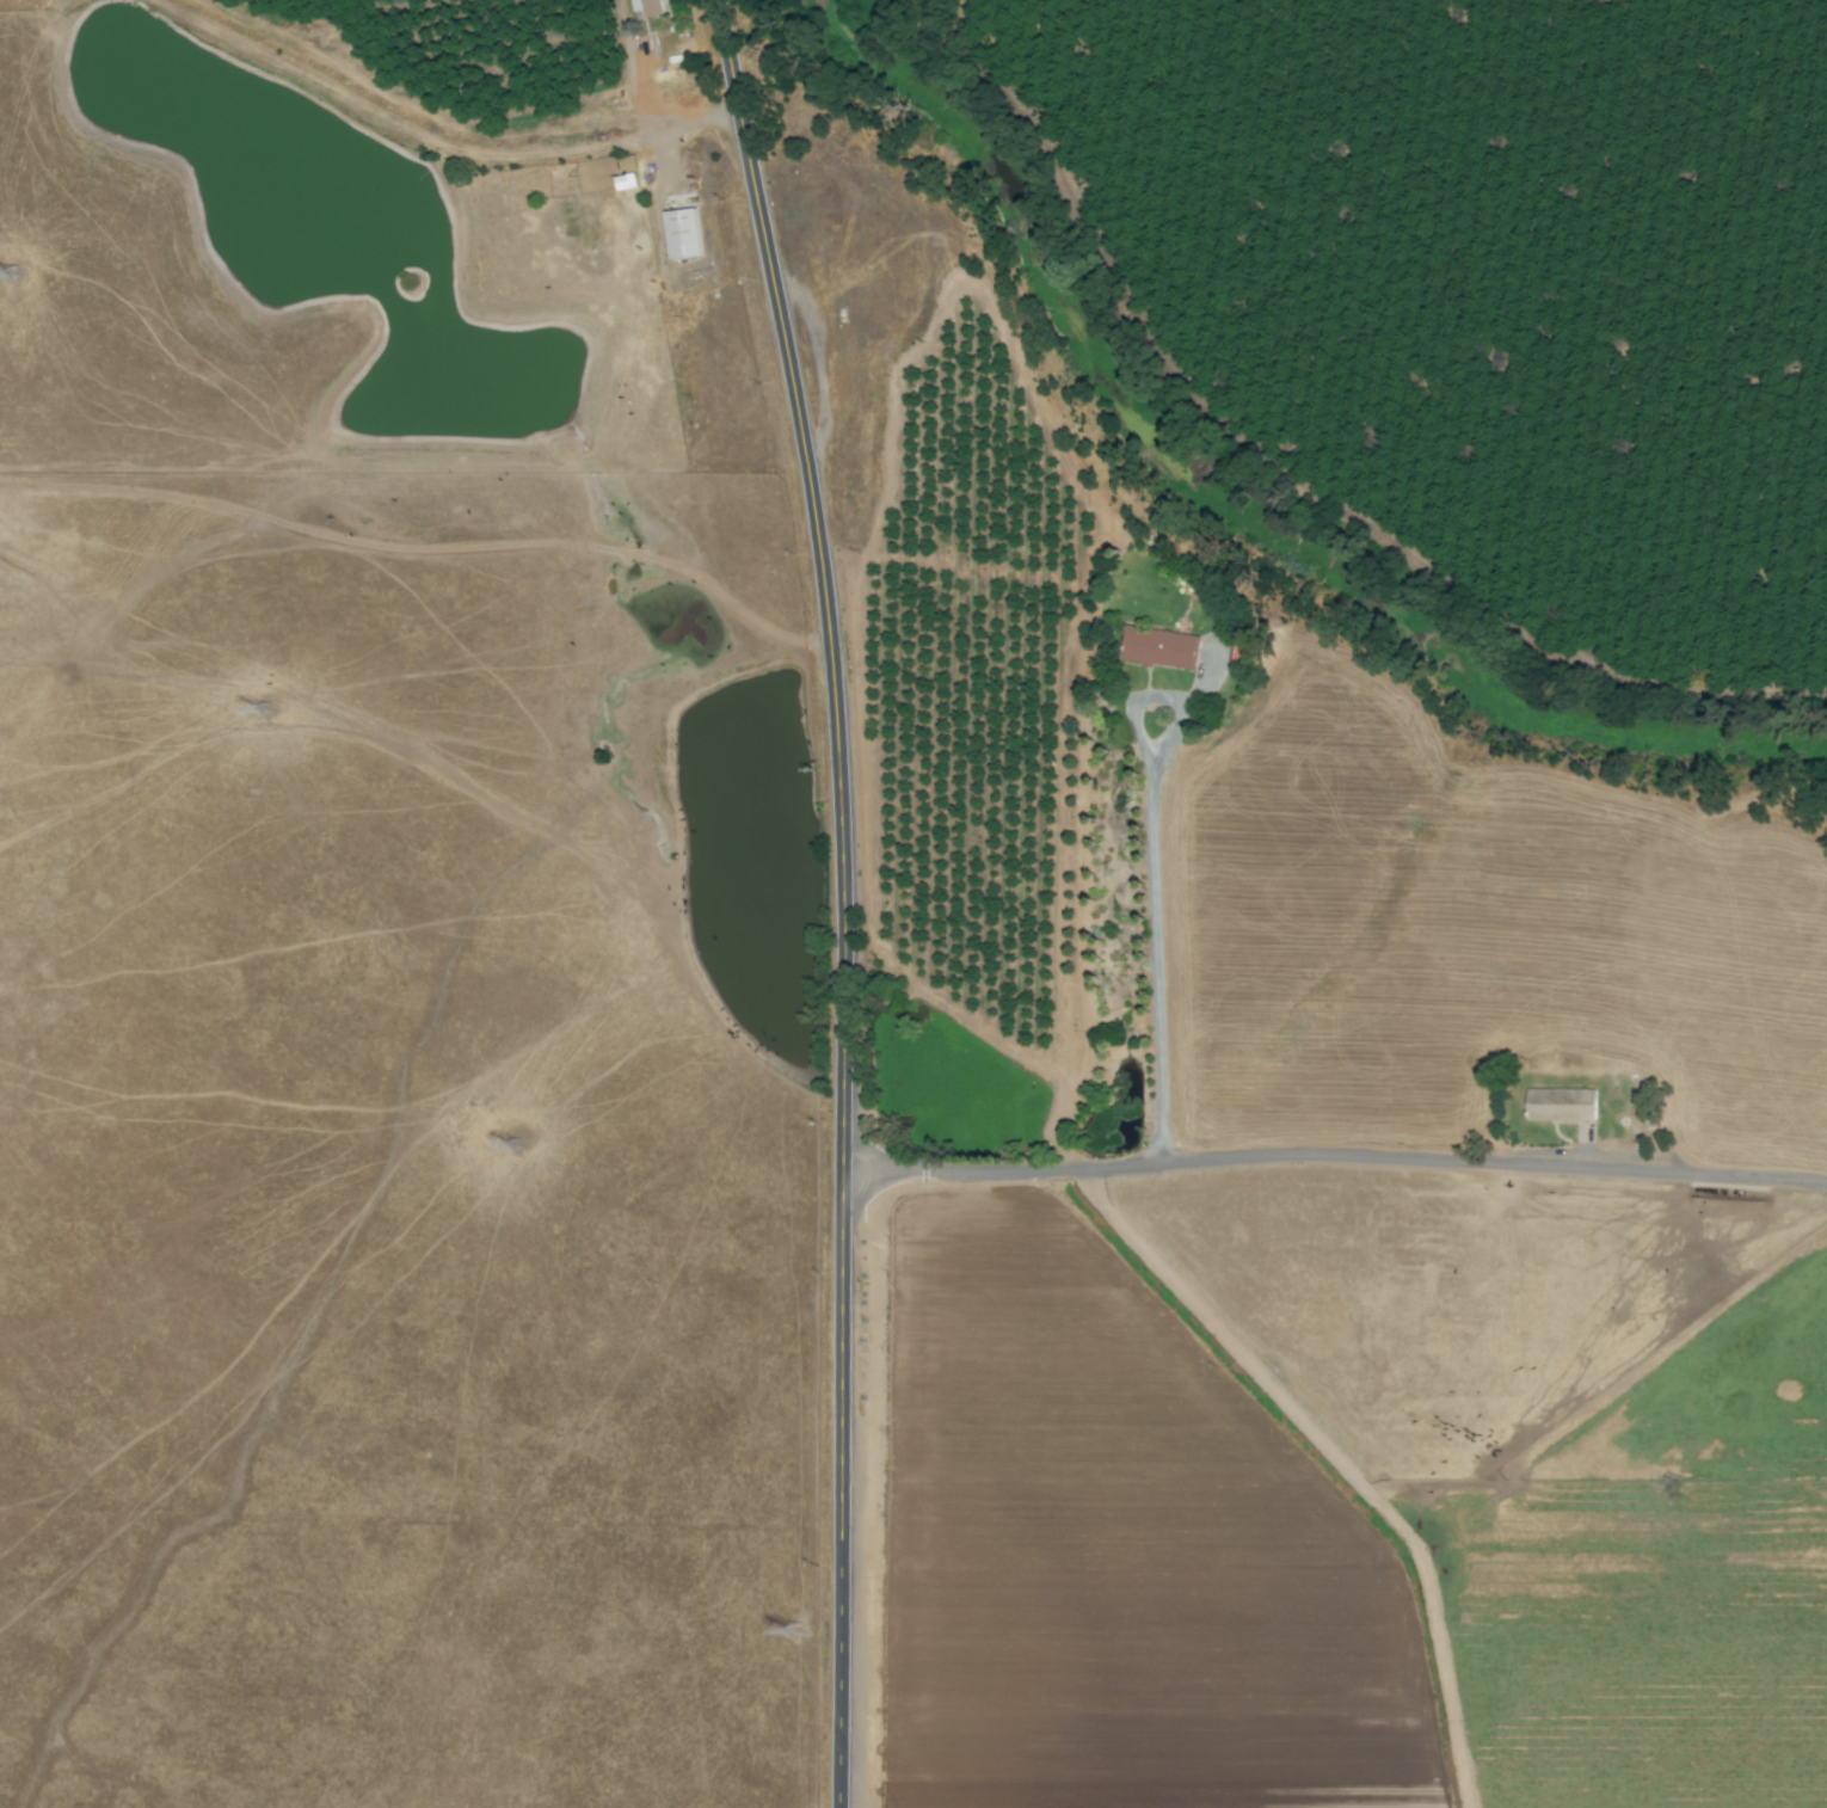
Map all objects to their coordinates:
building: (646, 7)
road: (639, 98)
building: (681, 233)
power tower: (12, 272)
building: (1158, 650)
building: (1241, 656)
power tower: (264, 708)
road: (841, 898)
road: (1159, 941)
building: (1560, 1105)
power tower: (517, 1145)
road: (1334, 1158)
power tower: (796, 1630)

